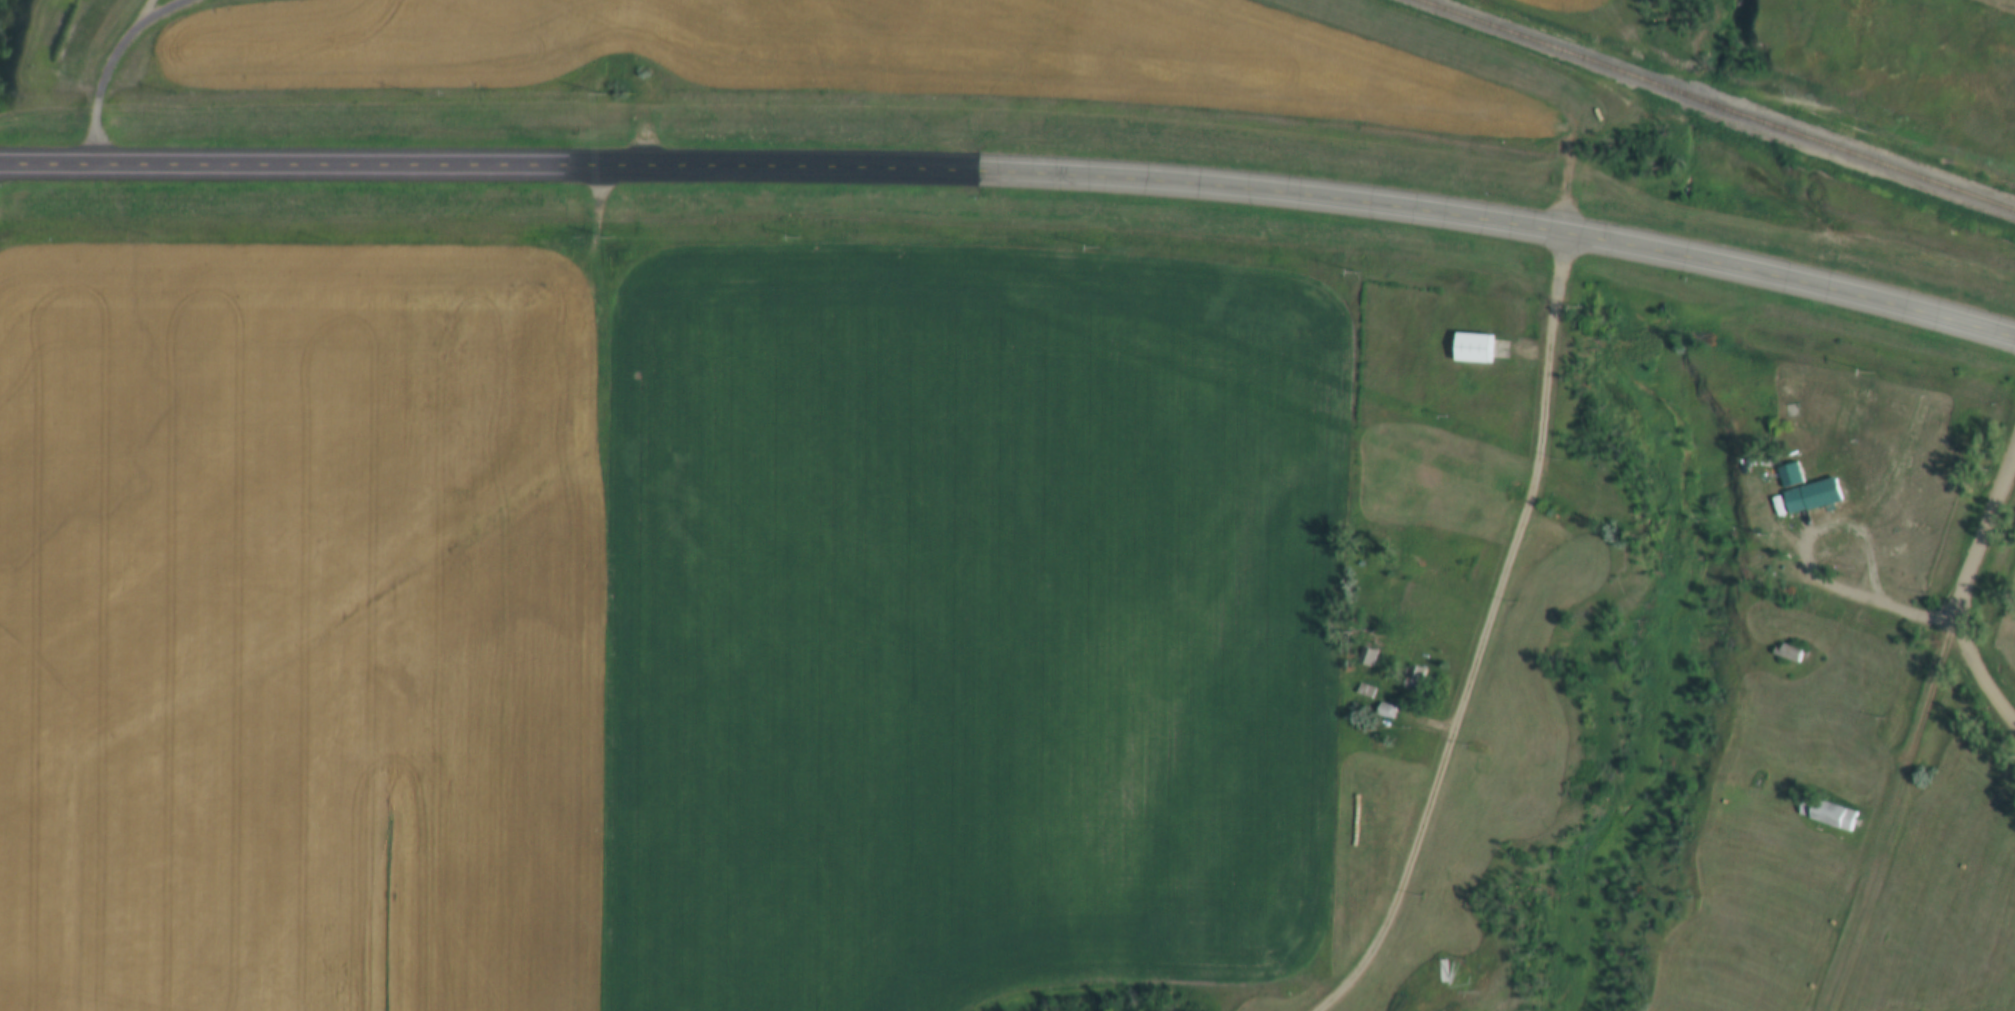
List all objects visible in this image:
road: (143, 15)
road: (112, 60)
railway: (1719, 101)
road: (1015, 172)
building: (1481, 348)
building: (1820, 523)
road: (1958, 584)
road: (1836, 590)
road: (1488, 635)
building: (1793, 653)
building: (1369, 657)
building: (1420, 680)
building: (1389, 711)
road: (1897, 811)
building: (1832, 813)

